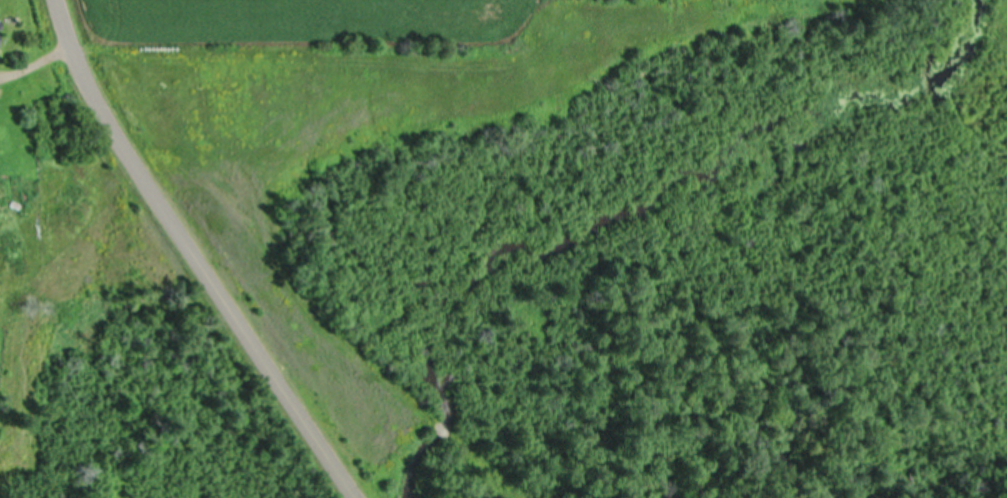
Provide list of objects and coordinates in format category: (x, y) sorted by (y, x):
road: (194, 255)

